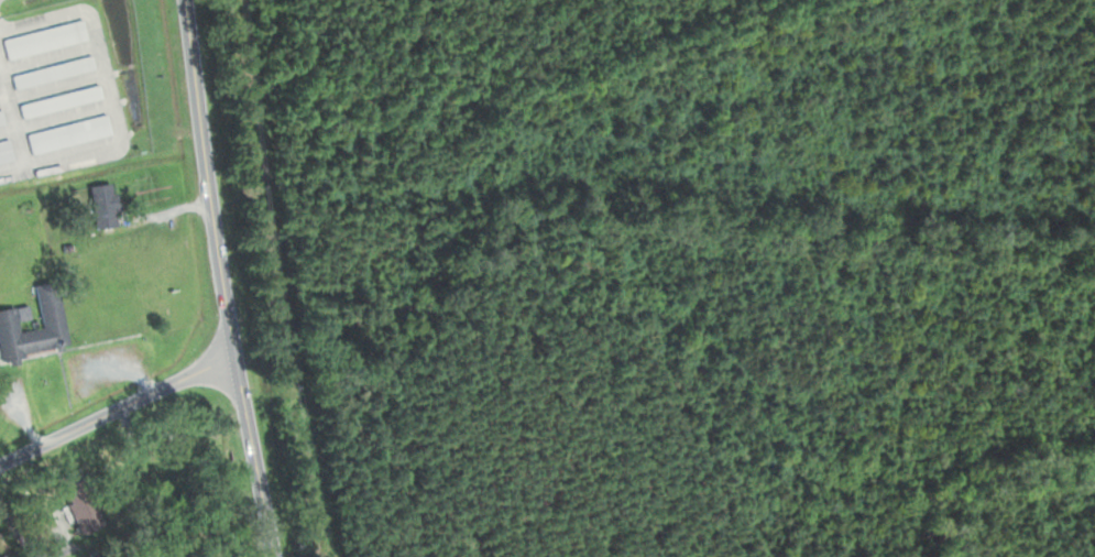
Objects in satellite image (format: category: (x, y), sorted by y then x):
building: (47, 39)
building: (56, 72)
building: (63, 101)
building: (2, 117)
building: (70, 133)
building: (6, 150)
building: (99, 205)
road: (223, 278)
building: (45, 328)
road: (117, 411)
building: (76, 503)

